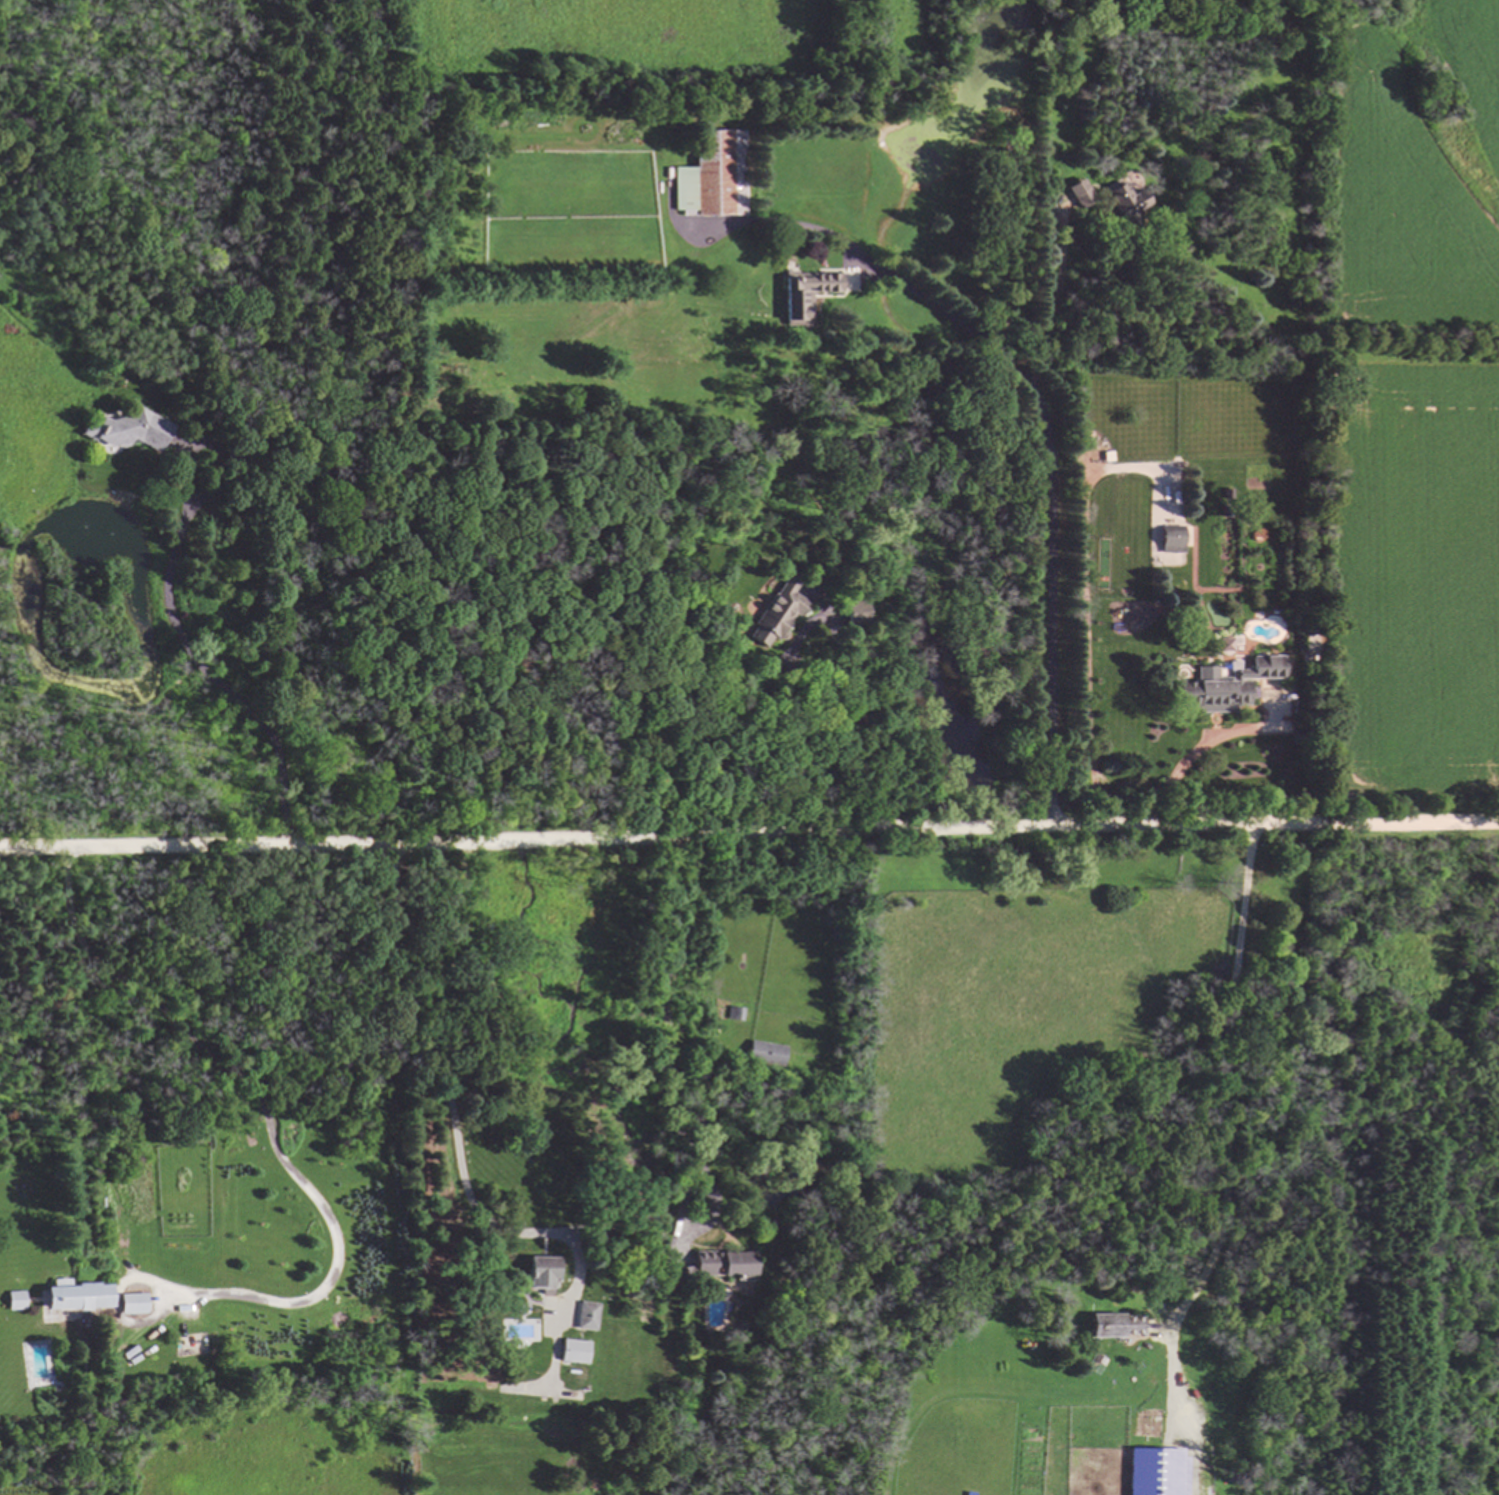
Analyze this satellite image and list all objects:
building: (708, 177)
building: (1075, 194)
building: (1124, 205)
building: (802, 297)
road: (1054, 308)
building: (124, 433)
road: (1051, 506)
building: (1168, 539)
road: (1086, 595)
building: (773, 615)
road: (196, 663)
building: (1227, 686)
road: (856, 713)
road: (1174, 775)
road: (749, 838)
building: (733, 1014)
road: (666, 1036)
building: (764, 1055)
road: (451, 1110)
road: (265, 1114)
road: (1217, 1128)
building: (736, 1266)
building: (697, 1268)
building: (542, 1273)
building: (76, 1297)
building: (14, 1302)
building: (132, 1304)
building: (586, 1317)
building: (1116, 1327)
building: (573, 1352)
building: (1151, 1469)

